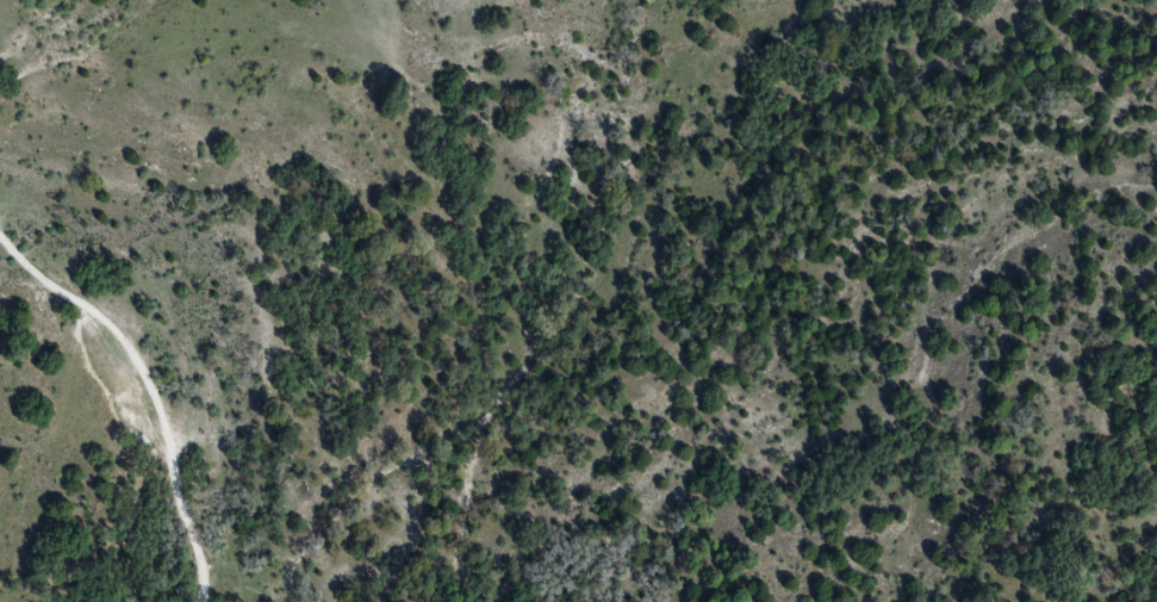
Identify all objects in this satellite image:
road: (151, 390)

